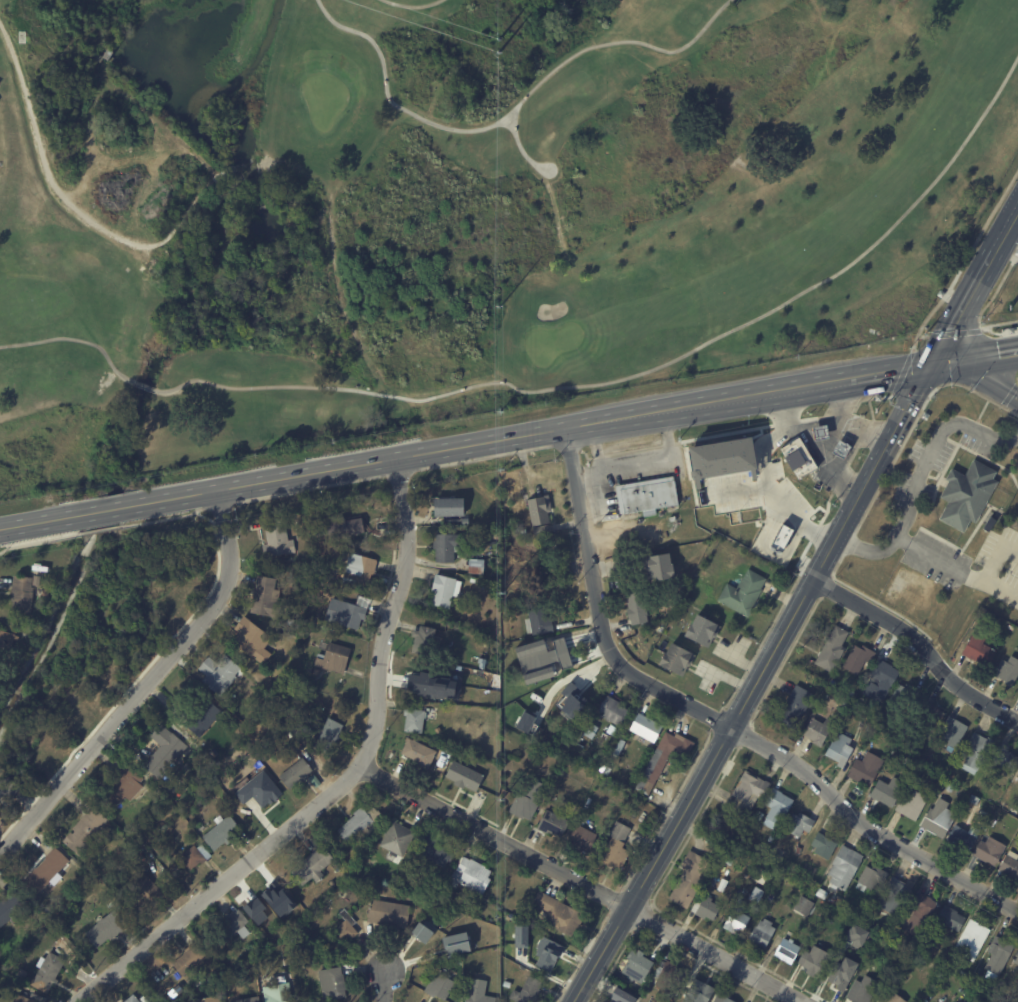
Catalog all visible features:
road: (412, 6)
power tower: (497, 39)
power tower: (497, 53)
building: (0, 85)
road: (510, 111)
road: (531, 161)
road: (42, 163)
park: (462, 213)
road: (1008, 233)
road: (967, 306)
power tower: (499, 321)
road: (73, 339)
park: (549, 340)
road: (977, 357)
traffic signals: (936, 364)
road: (647, 371)
road: (896, 371)
road: (145, 385)
road: (976, 385)
road: (781, 404)
road: (906, 414)
road: (838, 420)
building: (826, 431)
building: (789, 433)
road: (864, 435)
road: (932, 444)
building: (847, 448)
gas station: (826, 449)
building: (840, 449)
road: (427, 452)
road: (822, 456)
building: (722, 459)
building: (807, 462)
road: (773, 489)
building: (606, 490)
building: (965, 494)
building: (651, 495)
building: (453, 506)
building: (540, 510)
building: (461, 521)
building: (989, 524)
building: (677, 526)
building: (345, 527)
building: (542, 529)
building: (526, 532)
road: (2, 536)
building: (783, 536)
building: (279, 537)
building: (451, 546)
road: (865, 547)
building: (475, 550)
building: (499, 550)
building: (479, 566)
road: (957, 566)
building: (667, 567)
building: (362, 570)
building: (705, 573)
building: (38, 580)
building: (447, 590)
building: (47, 592)
building: (746, 593)
building: (24, 594)
power tower: (500, 595)
building: (268, 597)
building: (639, 608)
building: (351, 609)
road: (601, 612)
building: (539, 620)
building: (295, 622)
building: (703, 630)
building: (9, 638)
building: (255, 639)
building: (427, 640)
road: (919, 644)
building: (977, 648)
building: (831, 649)
park: (99, 654)
building: (564, 654)
building: (336, 658)
building: (678, 659)
building: (856, 659)
building: (1007, 671)
building: (318, 672)
building: (521, 672)
building: (222, 673)
road: (147, 680)
building: (420, 681)
building: (879, 681)
building: (831, 683)
building: (578, 691)
building: (572, 701)
building: (907, 702)
building: (844, 703)
building: (792, 706)
building: (616, 711)
building: (931, 714)
building: (876, 715)
building: (206, 718)
building: (417, 720)
building: (524, 721)
building: (858, 724)
building: (649, 729)
building: (943, 729)
building: (817, 731)
building: (871, 731)
building: (293, 733)
road: (728, 733)
building: (332, 735)
building: (606, 736)
building: (839, 749)
building: (915, 750)
building: (165, 751)
building: (929, 751)
building: (974, 751)
building: (420, 752)
building: (215, 753)
building: (446, 757)
building: (1005, 758)
building: (904, 759)
building: (665, 760)
power tower: (501, 765)
building: (864, 769)
building: (298, 773)
building: (1017, 774)
building: (1017, 775)
building: (463, 776)
building: (929, 776)
building: (317, 780)
road: (343, 782)
building: (948, 786)
building: (123, 787)
building: (8, 791)
building: (886, 791)
building: (745, 793)
building: (1008, 793)
building: (269, 794)
building: (972, 800)
building: (529, 802)
building: (910, 805)
building: (776, 807)
building: (758, 816)
building: (936, 818)
building: (992, 820)
building: (555, 823)
building: (797, 824)
building: (364, 825)
road: (867, 829)
building: (89, 831)
building: (224, 833)
building: (962, 837)
building: (584, 838)
building: (399, 839)
building: (822, 845)
building: (619, 847)
building: (797, 850)
building: (988, 851)
building: (439, 852)
building: (197, 856)
building: (726, 858)
building: (130, 862)
building: (1010, 864)
building: (315, 867)
building: (842, 870)
building: (46, 873)
building: (770, 874)
building: (757, 875)
building: (473, 876)
building: (687, 878)
building: (869, 878)
road: (587, 880)
building: (711, 882)
building: (144, 887)
building: (820, 893)
building: (271, 894)
building: (894, 896)
building: (111, 905)
building: (804, 907)
building: (11, 908)
building: (705, 909)
building: (390, 913)
building: (559, 913)
building: (916, 915)
building: (949, 917)
building: (735, 919)
building: (233, 925)
building: (108, 929)
building: (347, 929)
building: (761, 934)
building: (856, 934)
building: (896, 934)
building: (427, 938)
building: (969, 941)
building: (456, 943)
building: (514, 950)
building: (786, 950)
building: (998, 950)
building: (550, 952)
building: (193, 960)
building: (1016, 960)
building: (476, 964)
building: (812, 964)
building: (917, 965)
building: (946, 966)
building: (634, 969)
building: (50, 972)
building: (961, 974)
building: (24, 975)
building: (236, 975)
building: (668, 976)
building: (837, 979)
building: (334, 983)
building: (1017, 983)
building: (507, 984)
building: (442, 985)
road: (390, 987)
building: (860, 990)
building: (0, 991)
building: (529, 991)
building: (481, 992)
building: (696, 992)
building: (279, 993)
building: (622, 996)
building: (33, 998)
building: (720, 998)
building: (891, 998)
building: (133, 999)
building: (212, 1000)
building: (250, 1000)

